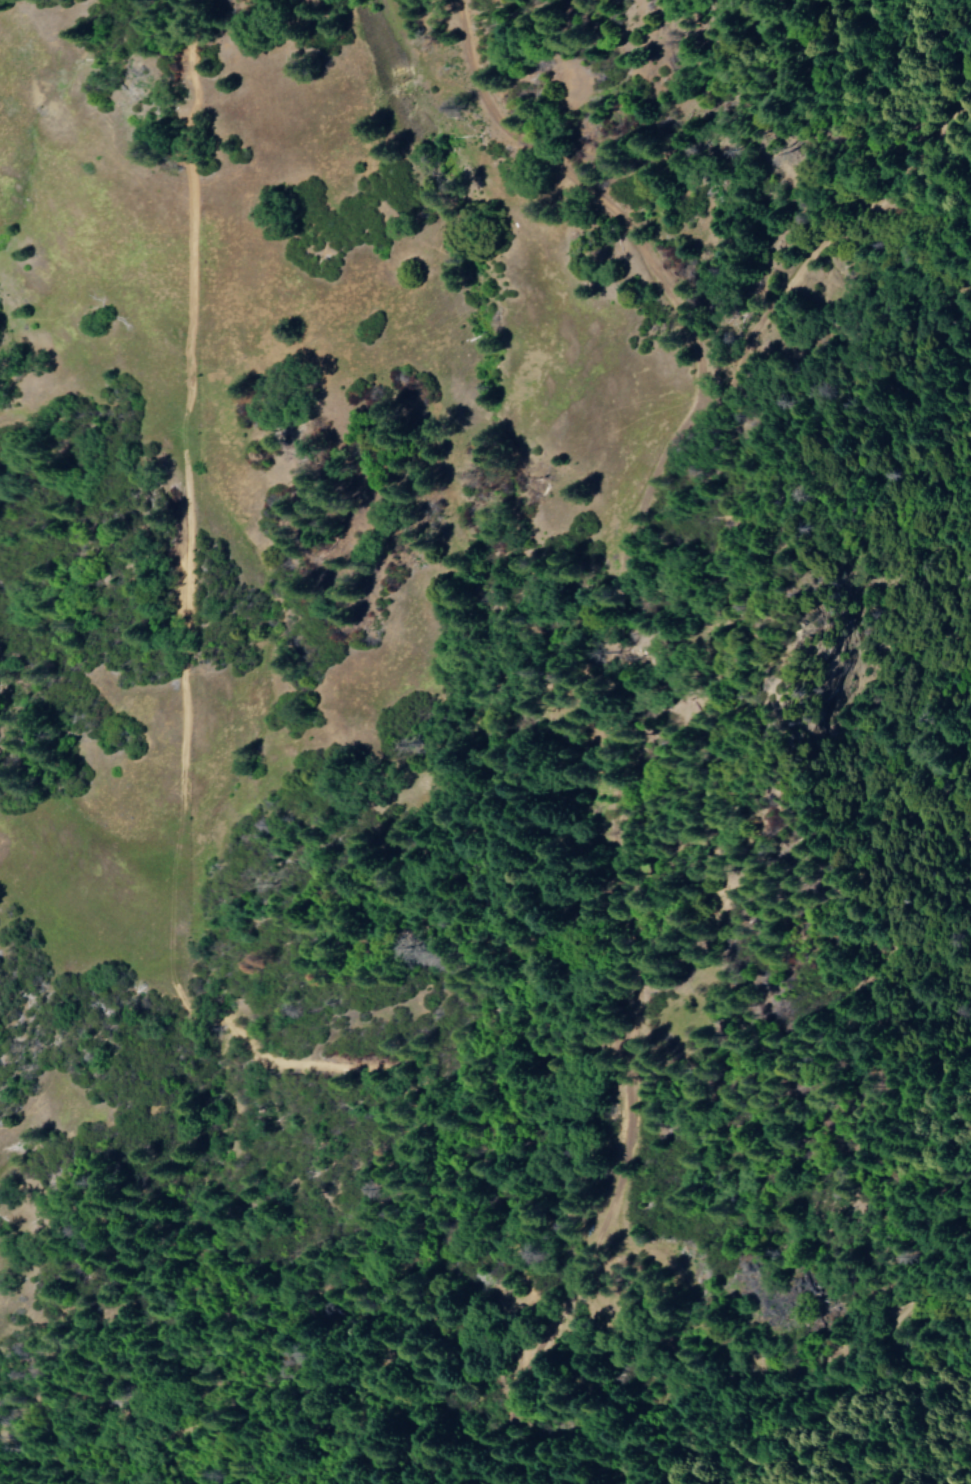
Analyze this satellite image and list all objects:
road: (599, 196)
road: (623, 747)

